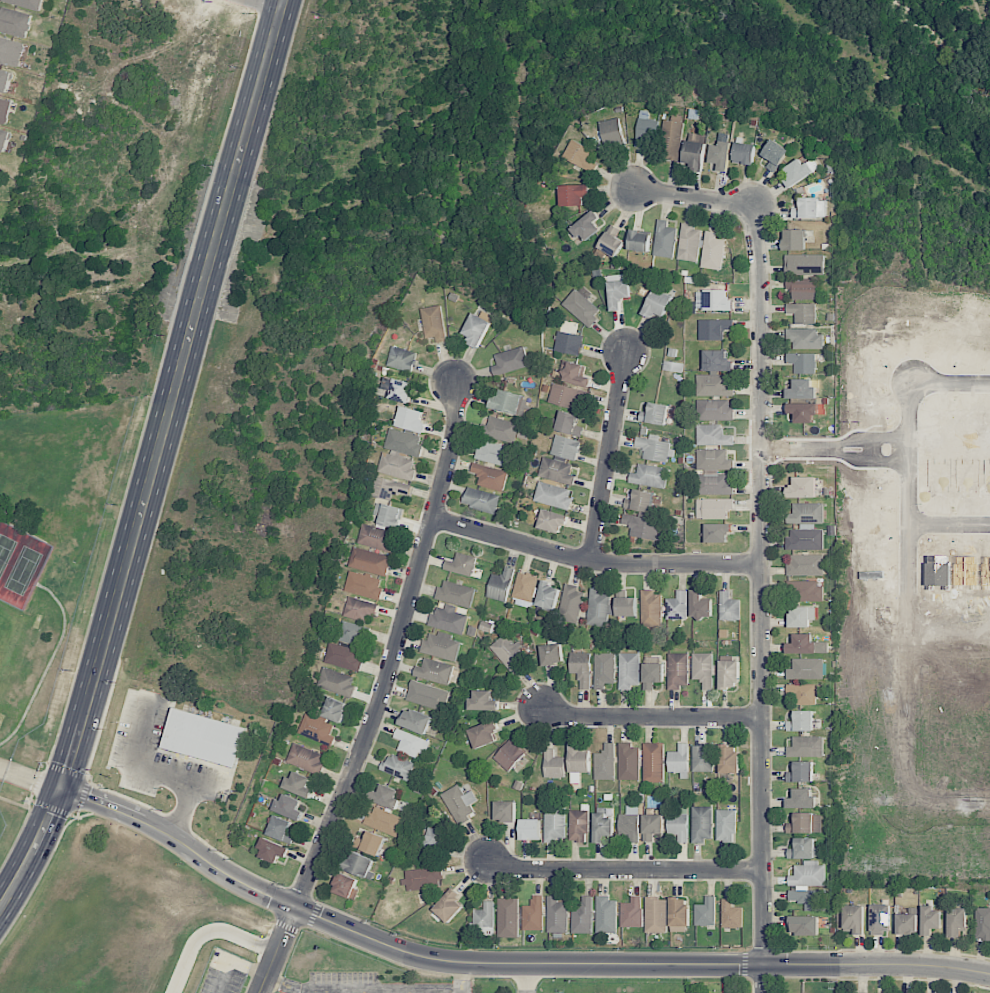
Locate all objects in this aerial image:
building: (26, 3)
road: (265, 4)
building: (15, 21)
building: (11, 51)
building: (5, 80)
building: (5, 110)
building: (648, 126)
building: (612, 130)
building: (673, 138)
building: (4, 139)
building: (744, 153)
building: (694, 154)
building: (775, 154)
building: (580, 155)
building: (720, 155)
building: (574, 194)
road: (695, 197)
building: (810, 208)
building: (587, 226)
building: (664, 239)
building: (794, 239)
building: (611, 241)
building: (639, 241)
building: (689, 243)
building: (712, 251)
building: (804, 264)
building: (618, 293)
building: (710, 301)
building: (657, 304)
building: (581, 307)
building: (803, 313)
building: (433, 323)
building: (476, 329)
building: (714, 329)
building: (805, 338)
building: (568, 343)
building: (402, 359)
building: (510, 361)
building: (717, 361)
building: (802, 362)
building: (575, 374)
road: (929, 383)
building: (714, 385)
building: (398, 389)
building: (807, 389)
building: (567, 396)
building: (510, 403)
building: (714, 409)
building: (808, 412)
building: (655, 414)
building: (411, 419)
building: (569, 423)
building: (500, 429)
building: (712, 435)
building: (565, 447)
road: (800, 447)
road: (839, 448)
building: (654, 449)
building: (495, 453)
building: (400, 454)
road: (609, 456)
road: (153, 458)
building: (556, 471)
building: (714, 472)
building: (489, 476)
building: (649, 476)
building: (946, 476)
building: (974, 476)
building: (390, 488)
building: (808, 488)
building: (553, 495)
building: (481, 500)
building: (640, 501)
building: (718, 507)
building: (810, 513)
building: (389, 515)
building: (552, 521)
road: (950, 525)
building: (642, 526)
building: (717, 532)
building: (377, 537)
building: (370, 561)
road: (594, 561)
building: (461, 564)
building: (805, 565)
building: (363, 585)
building: (500, 585)
building: (525, 587)
building: (805, 591)
building: (455, 593)
building: (547, 595)
road: (762, 598)
building: (625, 603)
building: (570, 604)
building: (700, 605)
building: (676, 606)
building: (728, 607)
building: (598, 608)
building: (651, 608)
building: (360, 609)
building: (801, 616)
building: (449, 619)
park: (3, 622)
building: (353, 632)
building: (806, 645)
building: (440, 646)
road: (397, 649)
building: (508, 652)
building: (551, 654)
building: (343, 656)
road: (910, 656)
building: (581, 668)
building: (603, 669)
building: (703, 669)
building: (806, 669)
building: (628, 670)
building: (677, 670)
building: (434, 671)
building: (652, 672)
building: (729, 674)
building: (336, 681)
building: (804, 693)
building: (427, 695)
building: (483, 701)
road: (650, 717)
building: (323, 721)
building: (415, 721)
building: (801, 721)
building: (484, 734)
building: (202, 738)
building: (411, 743)
building: (806, 746)
building: (509, 755)
building: (306, 758)
building: (702, 758)
building: (729, 759)
building: (679, 760)
building: (578, 762)
building: (628, 762)
building: (653, 762)
building: (605, 763)
building: (553, 764)
building: (397, 767)
building: (801, 772)
road: (30, 778)
building: (299, 784)
traffic signals: (61, 789)
building: (385, 796)
building: (801, 799)
building: (460, 803)
building: (288, 807)
building: (505, 811)
building: (384, 821)
building: (554, 823)
building: (629, 823)
building: (702, 823)
building: (807, 823)
building: (603, 824)
building: (679, 824)
building: (726, 825)
building: (578, 826)
building: (652, 826)
building: (281, 829)
building: (530, 829)
building: (436, 840)
building: (373, 843)
building: (804, 849)
building: (272, 850)
building: (360, 865)
road: (625, 871)
building: (422, 878)
building: (808, 885)
building: (346, 886)
building: (449, 906)
building: (679, 912)
building: (706, 912)
building: (632, 913)
building: (533, 914)
building: (731, 914)
building: (556, 915)
building: (606, 915)
building: (656, 915)
building: (582, 916)
building: (508, 917)
building: (881, 918)
building: (484, 919)
building: (853, 919)
building: (930, 920)
building: (956, 921)
building: (982, 923)
building: (906, 924)
building: (804, 925)
road: (208, 931)
road: (278, 949)
road: (506, 964)
road: (250, 968)
road: (225, 977)
road: (462, 977)
road: (525, 978)
road: (363, 991)

